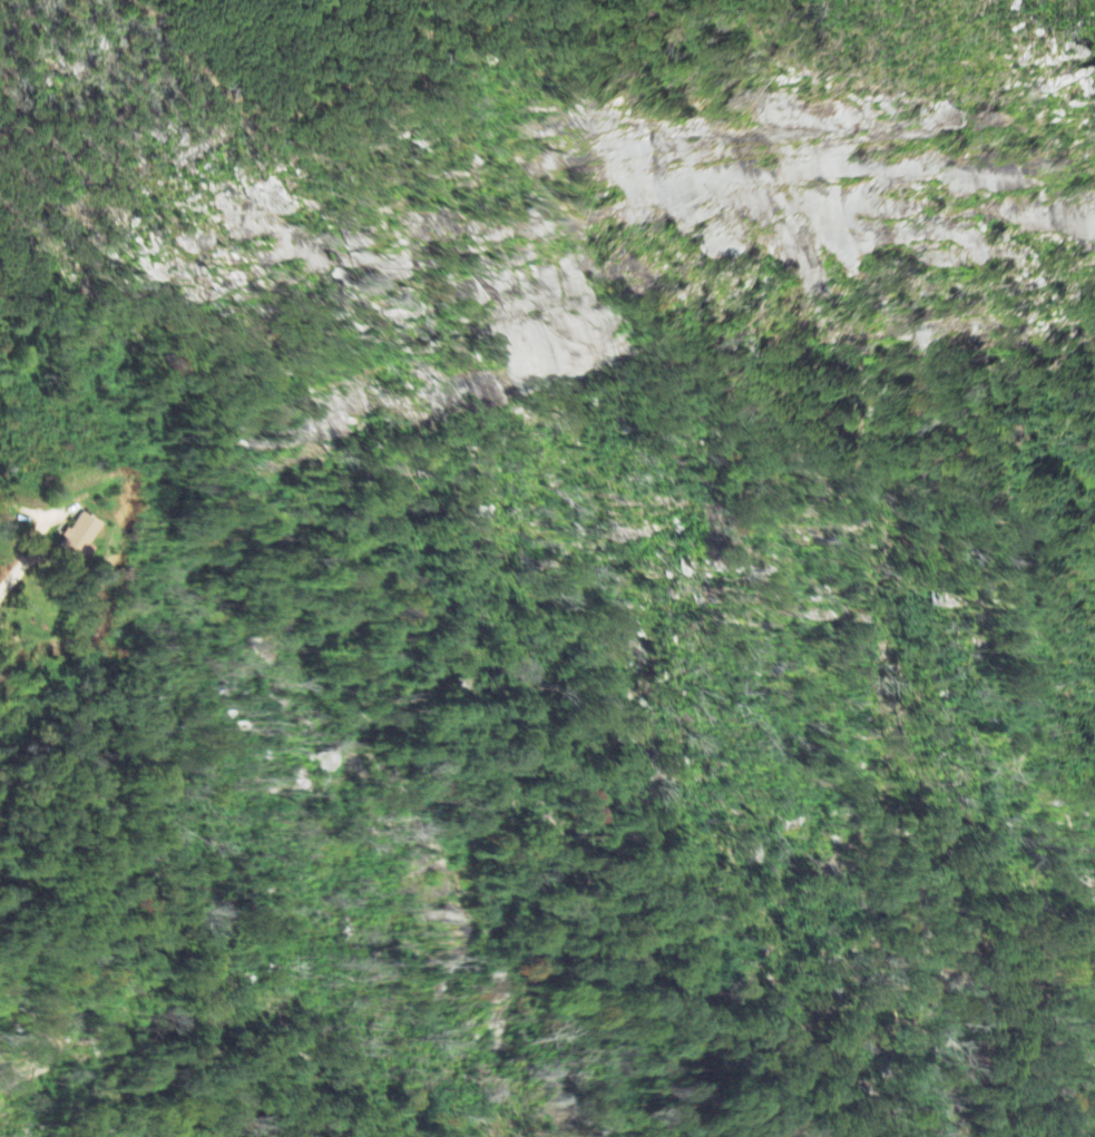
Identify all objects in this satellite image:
building: (80, 538)
park: (596, 654)

